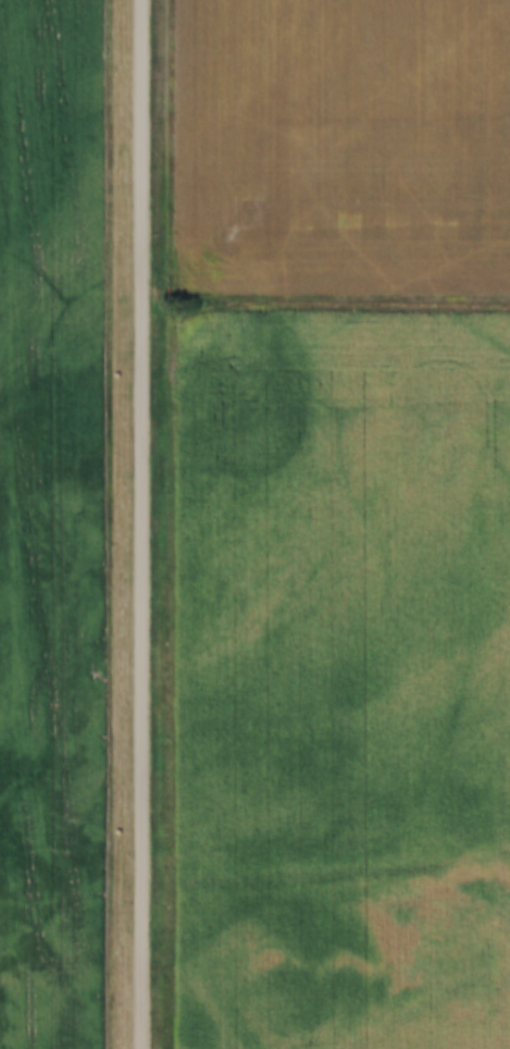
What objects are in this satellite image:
road: (328, 299)
road: (147, 523)

